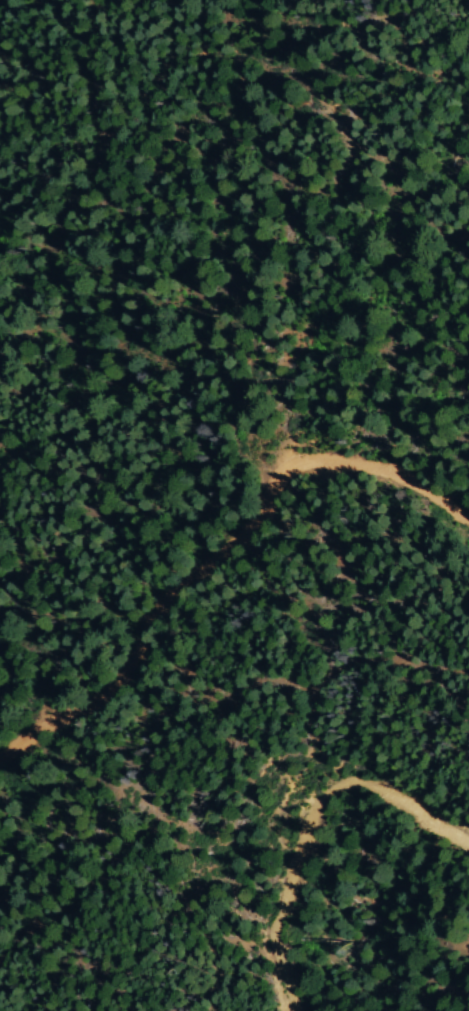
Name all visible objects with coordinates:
road: (181, 775)

